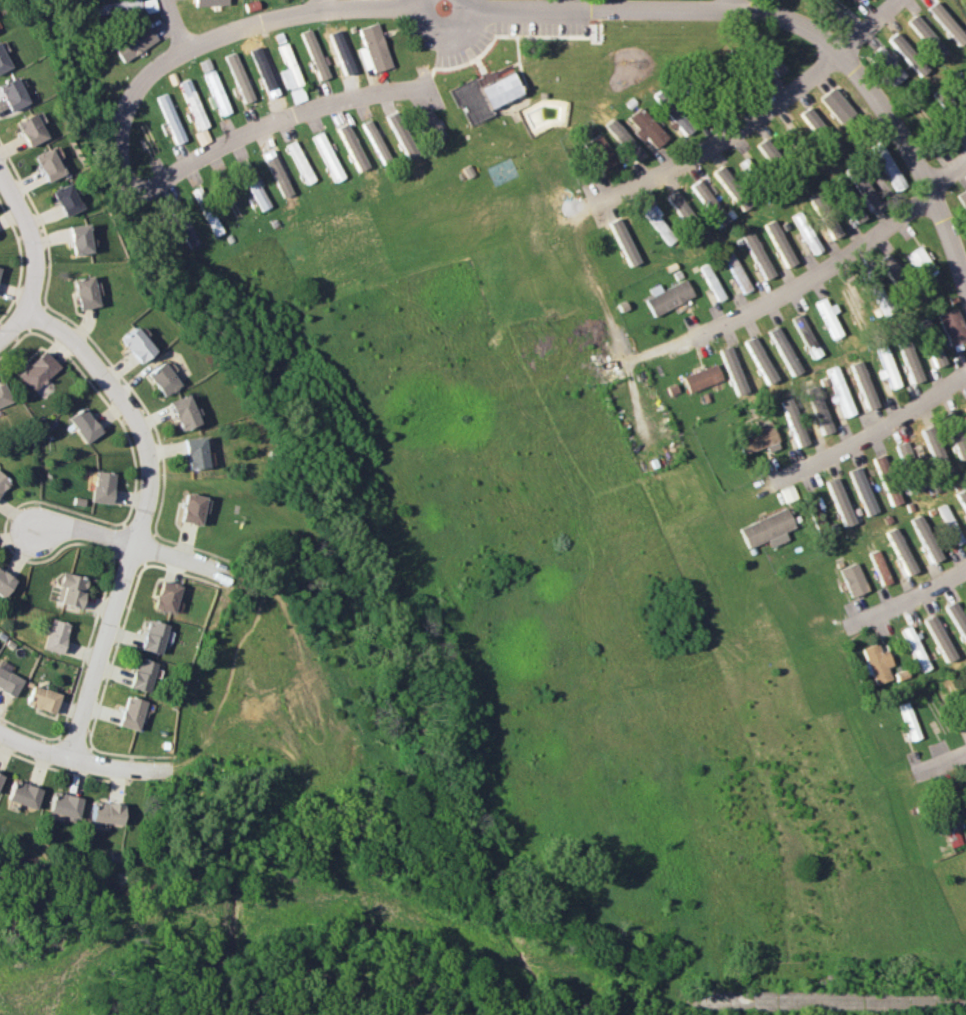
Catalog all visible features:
building: (209, 2)
road: (323, 2)
road: (572, 3)
road: (731, 4)
building: (114, 7)
road: (661, 8)
road: (178, 22)
building: (947, 22)
road: (445, 30)
road: (218, 32)
building: (927, 36)
building: (134, 42)
building: (373, 48)
building: (907, 53)
building: (314, 54)
road: (439, 59)
building: (2, 62)
building: (886, 65)
building: (288, 69)
building: (264, 71)
building: (238, 77)
building: (962, 83)
building: (501, 90)
building: (215, 93)
building: (11, 94)
building: (470, 100)
building: (192, 103)
building: (835, 104)
road: (762, 112)
road: (281, 113)
building: (677, 115)
building: (170, 118)
building: (810, 119)
building: (430, 125)
building: (647, 128)
building: (28, 129)
building: (787, 134)
building: (404, 137)
building: (624, 139)
building: (375, 141)
building: (350, 146)
building: (767, 147)
building: (600, 152)
building: (327, 156)
road: (918, 157)
building: (299, 161)
building: (46, 164)
building: (887, 165)
building: (274, 171)
building: (723, 177)
building: (252, 185)
building: (866, 190)
building: (962, 197)
building: (706, 198)
building: (64, 199)
building: (679, 207)
building: (854, 213)
building: (211, 220)
building: (657, 221)
building: (830, 225)
building: (806, 232)
road: (34, 234)
building: (78, 238)
building: (622, 242)
building: (779, 242)
building: (757, 255)
road: (839, 258)
building: (920, 263)
building: (889, 266)
building: (737, 271)
building: (712, 282)
building: (874, 290)
building: (84, 292)
building: (667, 296)
building: (854, 304)
road: (603, 305)
building: (828, 317)
road: (15, 325)
building: (951, 326)
building: (806, 335)
building: (135, 344)
building: (934, 352)
building: (908, 357)
building: (760, 359)
building: (887, 366)
building: (38, 370)
building: (733, 370)
building: (702, 377)
building: (161, 378)
building: (863, 384)
building: (840, 389)
building: (4, 395)
building: (965, 408)
building: (820, 409)
building: (181, 412)
building: (83, 424)
building: (796, 424)
road: (877, 429)
building: (759, 439)
building: (958, 440)
building: (192, 452)
building: (905, 454)
building: (937, 454)
building: (882, 461)
building: (3, 482)
building: (101, 486)
building: (863, 490)
building: (962, 496)
building: (841, 501)
building: (190, 508)
road: (146, 514)
building: (950, 523)
building: (768, 528)
building: (926, 537)
road: (136, 546)
building: (901, 550)
building: (880, 566)
building: (853, 579)
building: (4, 582)
road: (918, 588)
building: (71, 589)
building: (165, 596)
building: (55, 635)
building: (153, 636)
building: (939, 637)
building: (915, 647)
building: (876, 662)
building: (141, 674)
building: (8, 680)
building: (42, 698)
building: (963, 709)
building: (131, 712)
road: (944, 757)
road: (89, 764)
building: (0, 775)
building: (21, 793)
building: (62, 805)
building: (105, 812)
building: (950, 819)
road: (830, 997)

